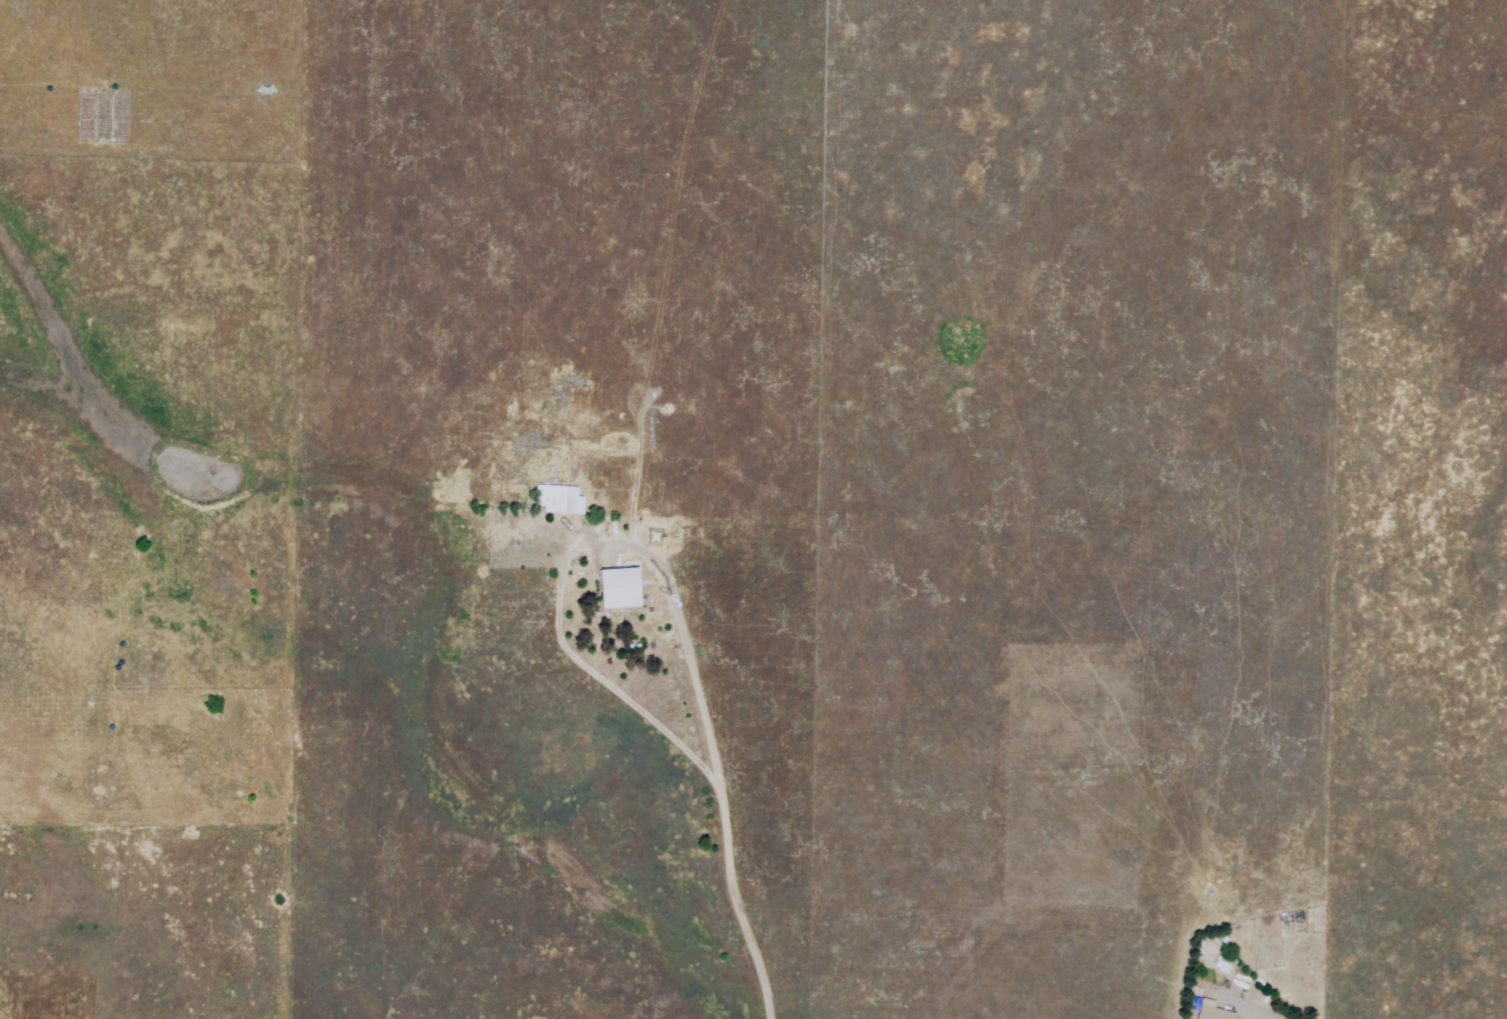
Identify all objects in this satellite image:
building: (562, 504)
building: (621, 587)
road: (715, 753)
building: (1224, 964)
building: (1215, 1010)
road: (1256, 1018)

